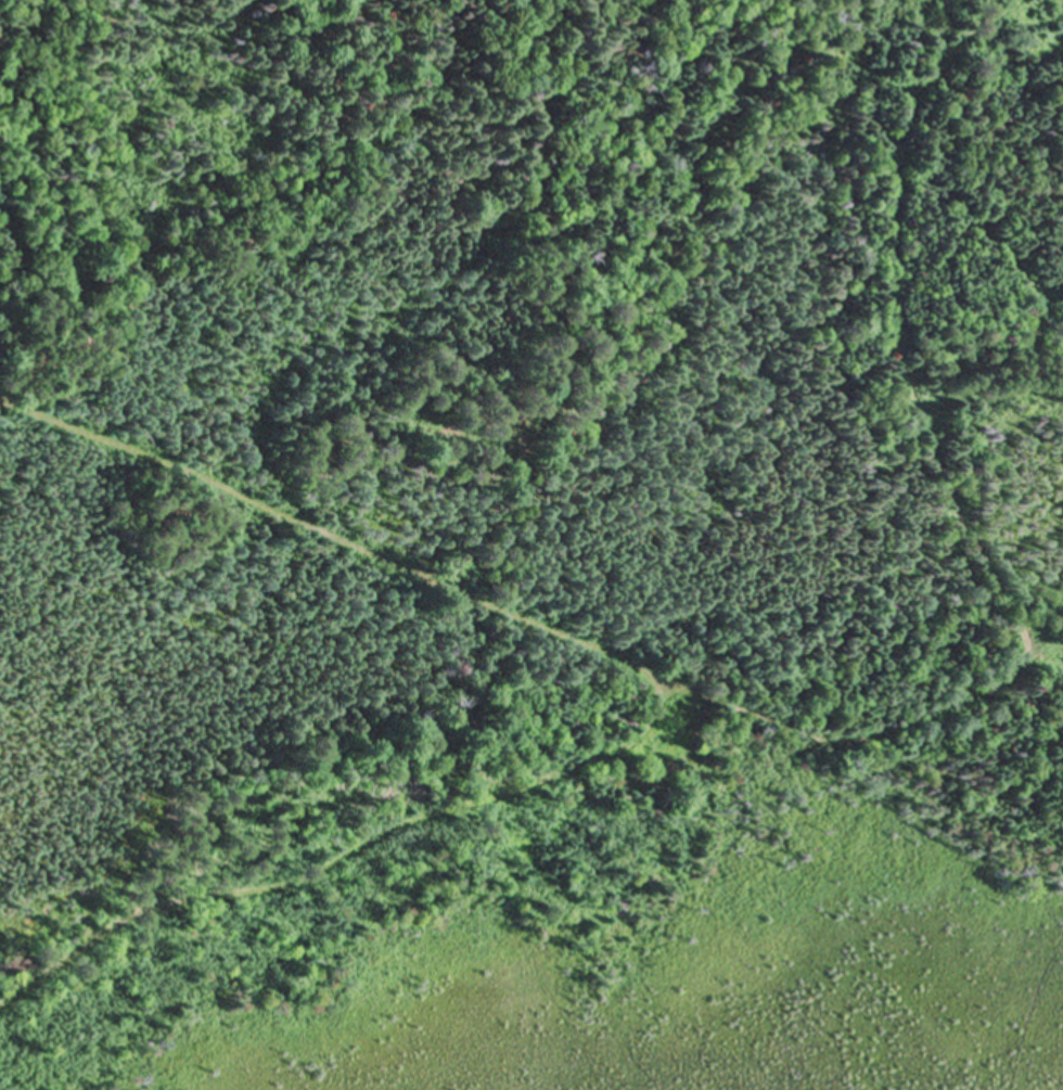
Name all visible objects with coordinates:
road: (431, 535)

